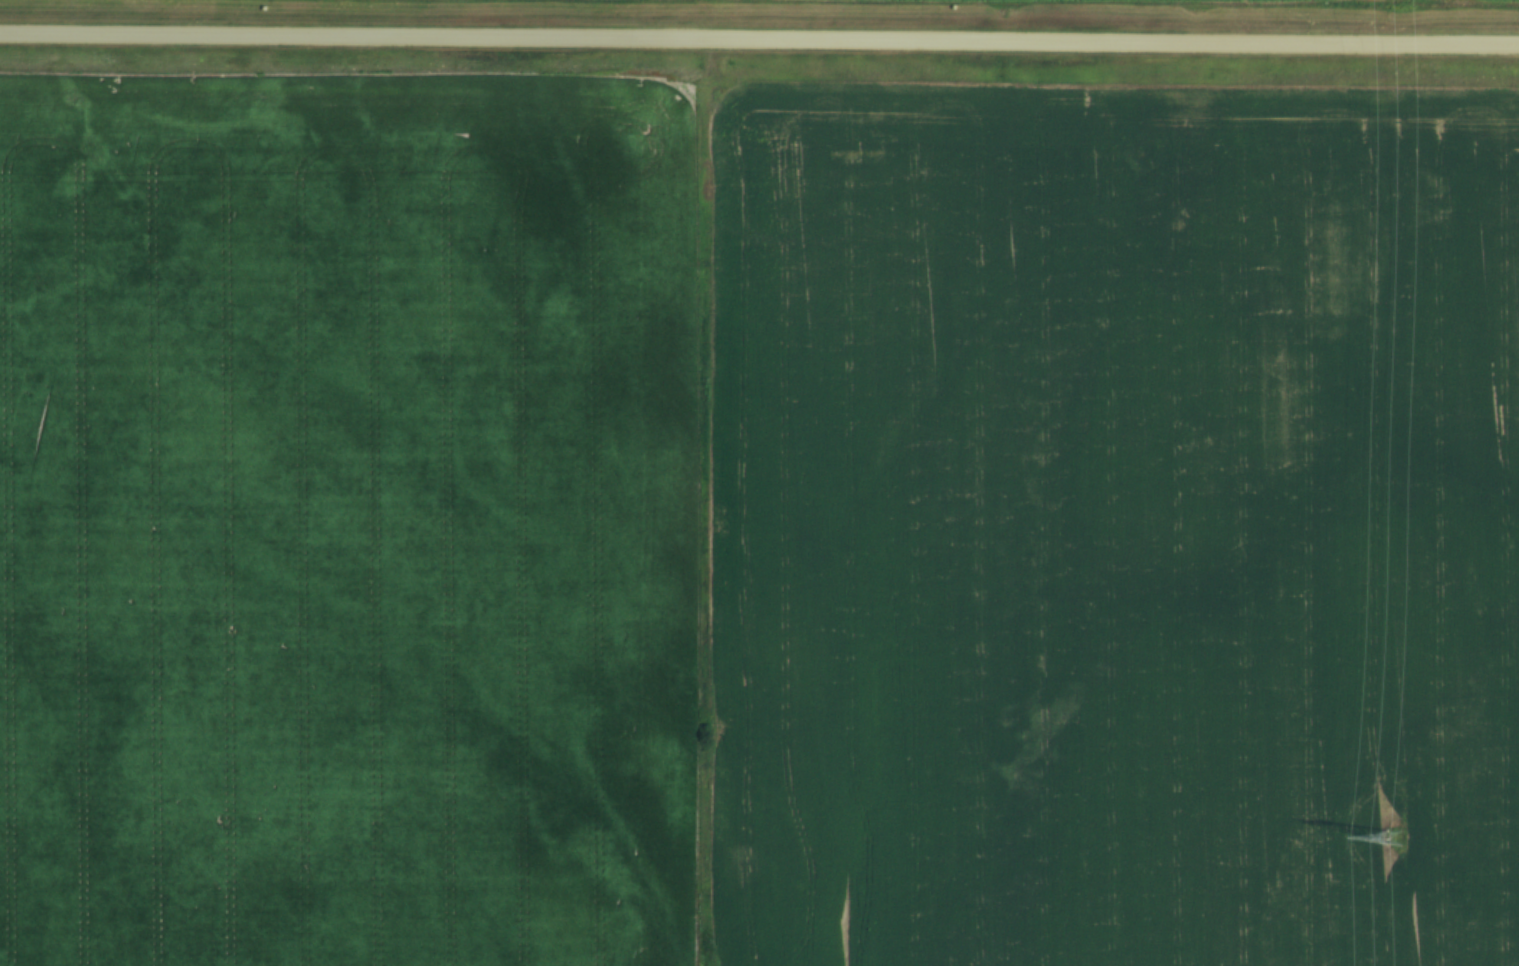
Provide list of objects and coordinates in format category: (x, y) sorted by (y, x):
road: (759, 36)
crop: (1116, 523)
power tower: (1389, 837)

